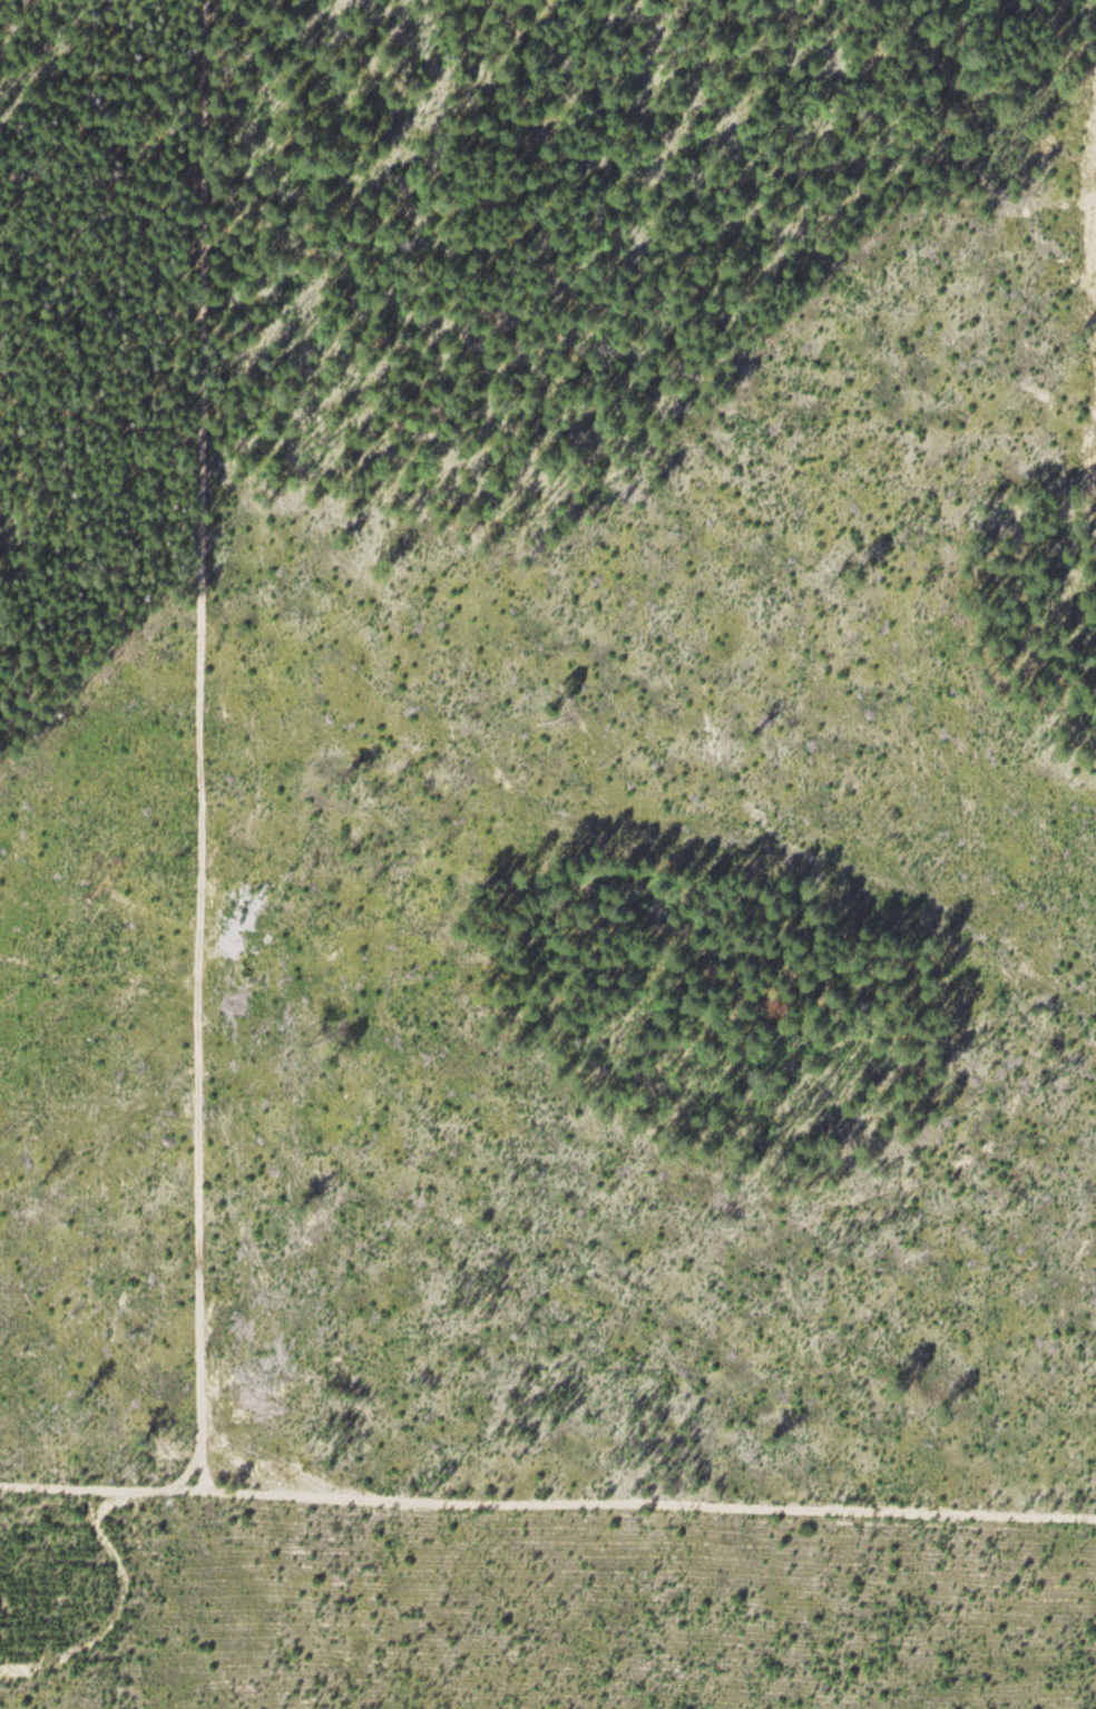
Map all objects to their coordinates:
road: (205, 746)
road: (547, 1510)

